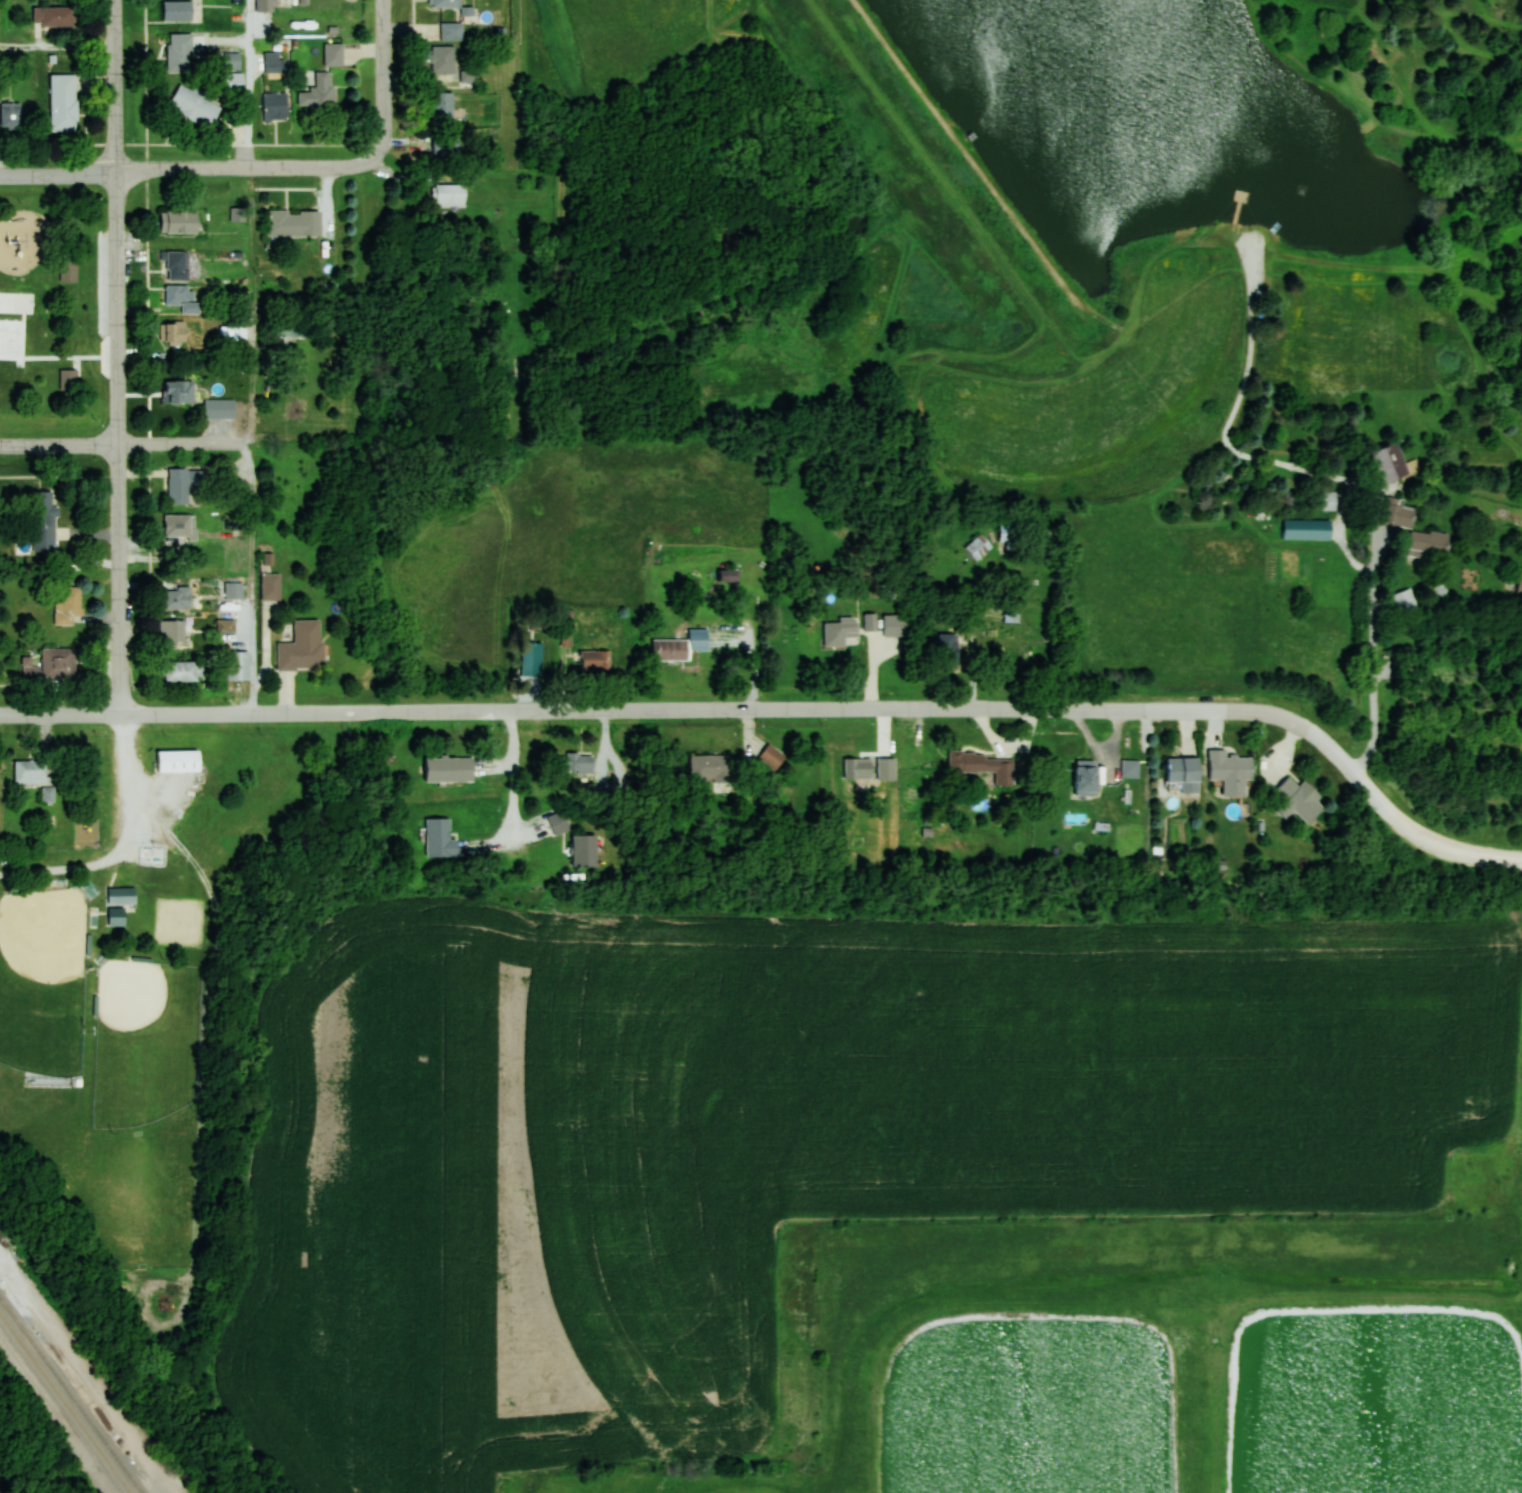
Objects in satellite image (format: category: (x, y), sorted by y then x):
building: (445, 3)
building: (264, 6)
building: (177, 11)
building: (54, 16)
building: (452, 31)
building: (179, 52)
building: (334, 55)
building: (274, 63)
building: (450, 68)
road: (385, 82)
building: (319, 92)
building: (63, 103)
building: (195, 106)
building: (275, 107)
building: (441, 107)
building: (10, 116)
building: (445, 146)
road: (187, 168)
building: (449, 197)
building: (179, 222)
building: (294, 223)
parking lot: (1251, 257)
building: (176, 266)
building: (69, 271)
building: (183, 298)
park: (50, 309)
water park: (16, 320)
building: (291, 329)
building: (176, 333)
building: (69, 380)
building: (179, 392)
building: (220, 409)
road: (124, 423)
road: (118, 443)
building: (1390, 461)
road: (1365, 483)
building: (184, 484)
building: (1329, 501)
building: (45, 523)
building: (180, 526)
building: (1307, 528)
building: (1415, 529)
building: (1008, 536)
building: (978, 546)
building: (1519, 583)
building: (271, 585)
building: (176, 596)
building: (1404, 602)
building: (67, 604)
building: (870, 621)
building: (226, 624)
building: (897, 624)
building: (172, 629)
building: (842, 631)
building: (303, 646)
building: (670, 649)
building: (949, 649)
building: (532, 658)
building: (595, 659)
building: (64, 661)
building: (238, 664)
building: (181, 670)
road: (715, 710)
building: (771, 757)
building: (179, 759)
building: (581, 762)
building: (984, 765)
building: (1130, 767)
building: (449, 768)
building: (711, 768)
building: (858, 768)
building: (1231, 770)
building: (30, 771)
building: (1184, 772)
building: (1087, 777)
building: (1299, 798)
building: (558, 822)
building: (440, 838)
road: (1452, 850)
building: (584, 853)
road: (66, 867)
building: (122, 895)
building: (116, 916)
park: (183, 921)
park: (42, 979)
park: (145, 1041)
landfill: (169, 1303)
railway: (71, 1395)
railway: (64, 1404)

